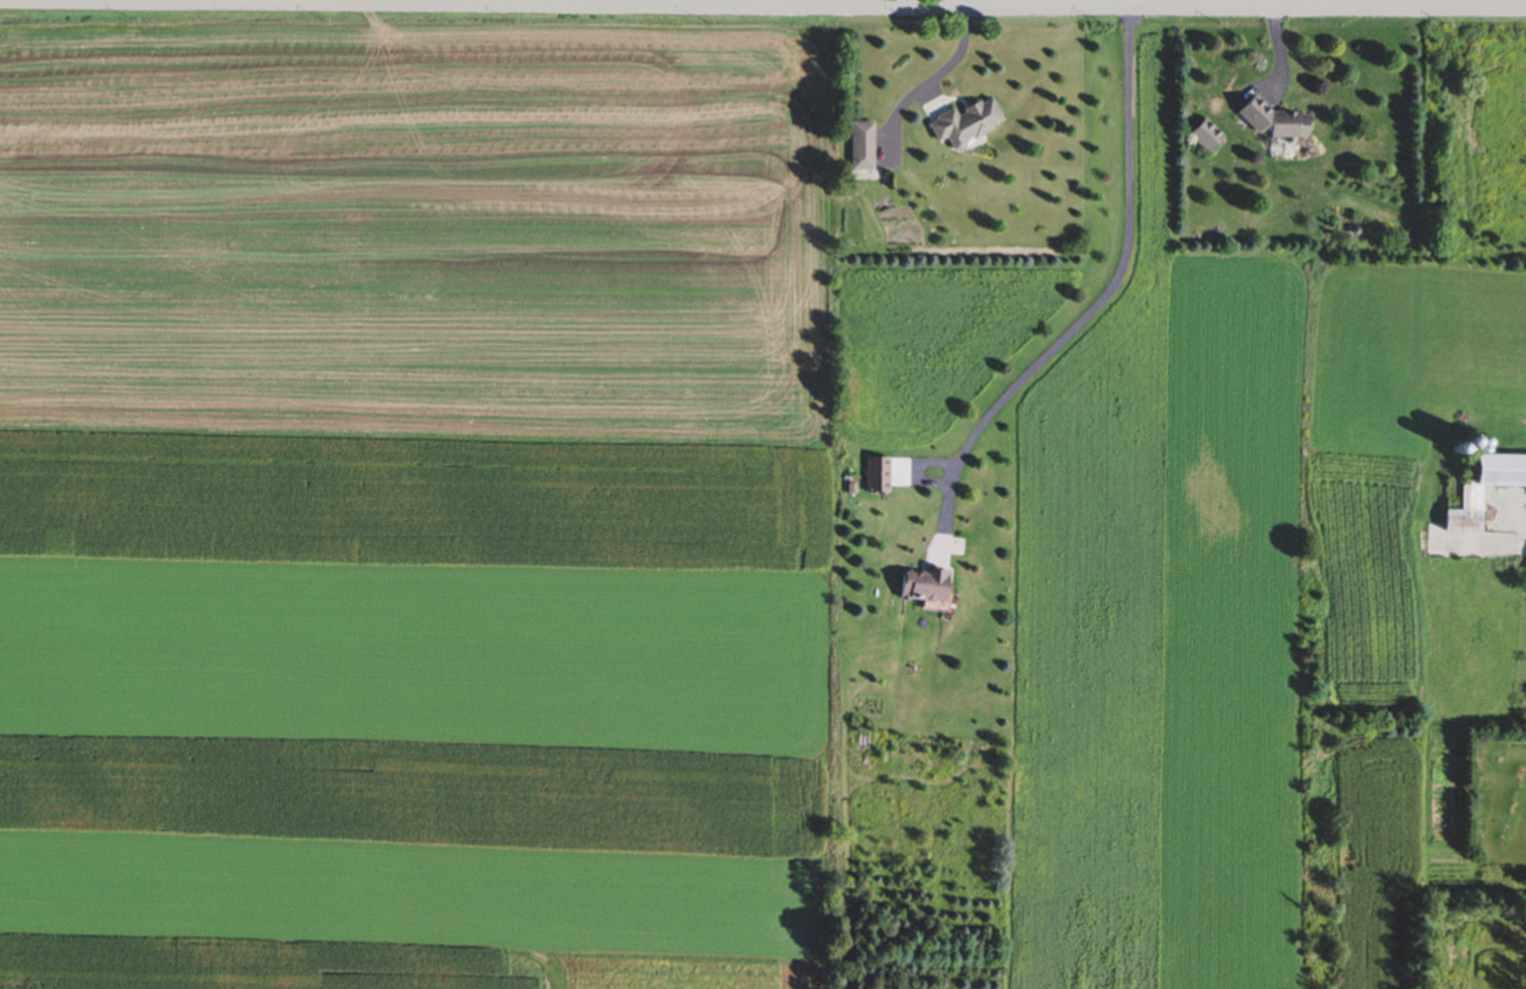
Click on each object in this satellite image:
road: (762, 8)
road: (928, 81)
building: (1272, 123)
building: (962, 126)
building: (1205, 138)
building: (860, 148)
road: (1100, 303)
building: (874, 477)
building: (1467, 501)
building: (920, 588)

